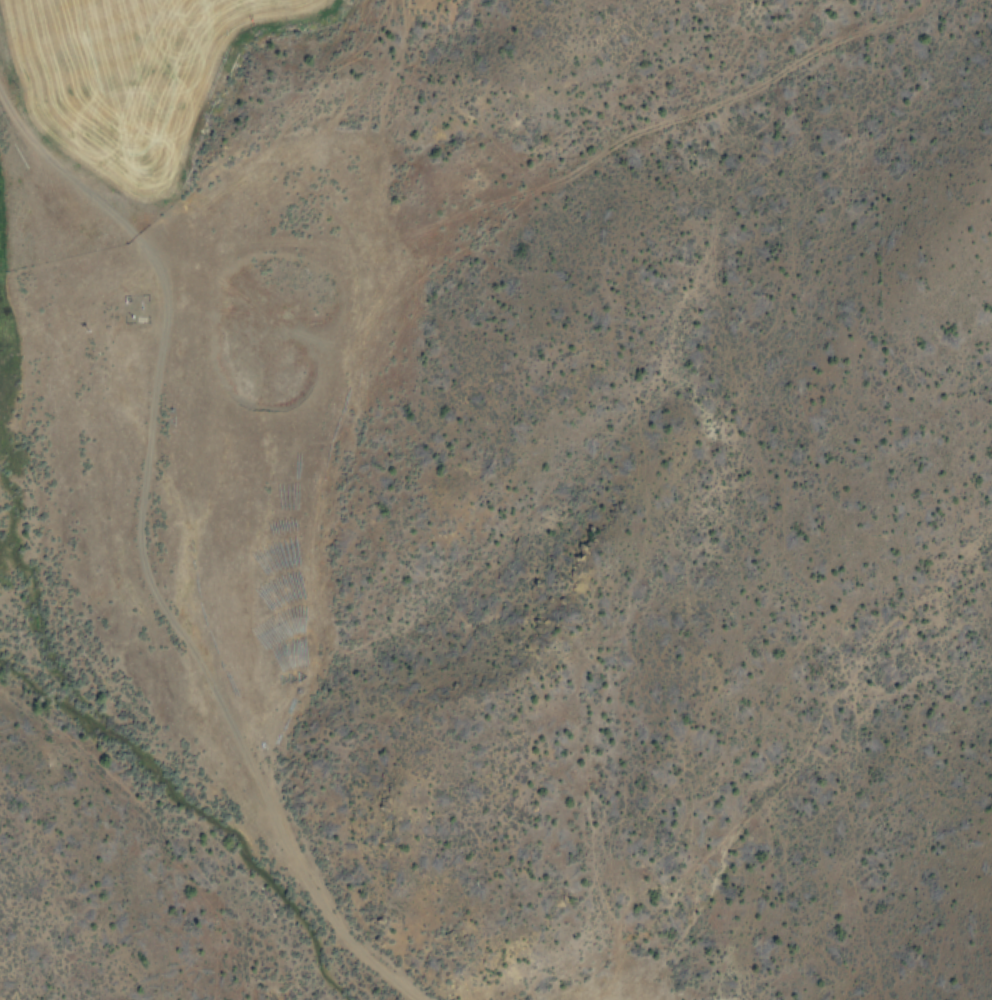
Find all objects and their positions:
crop: (139, 76)
road: (182, 599)

